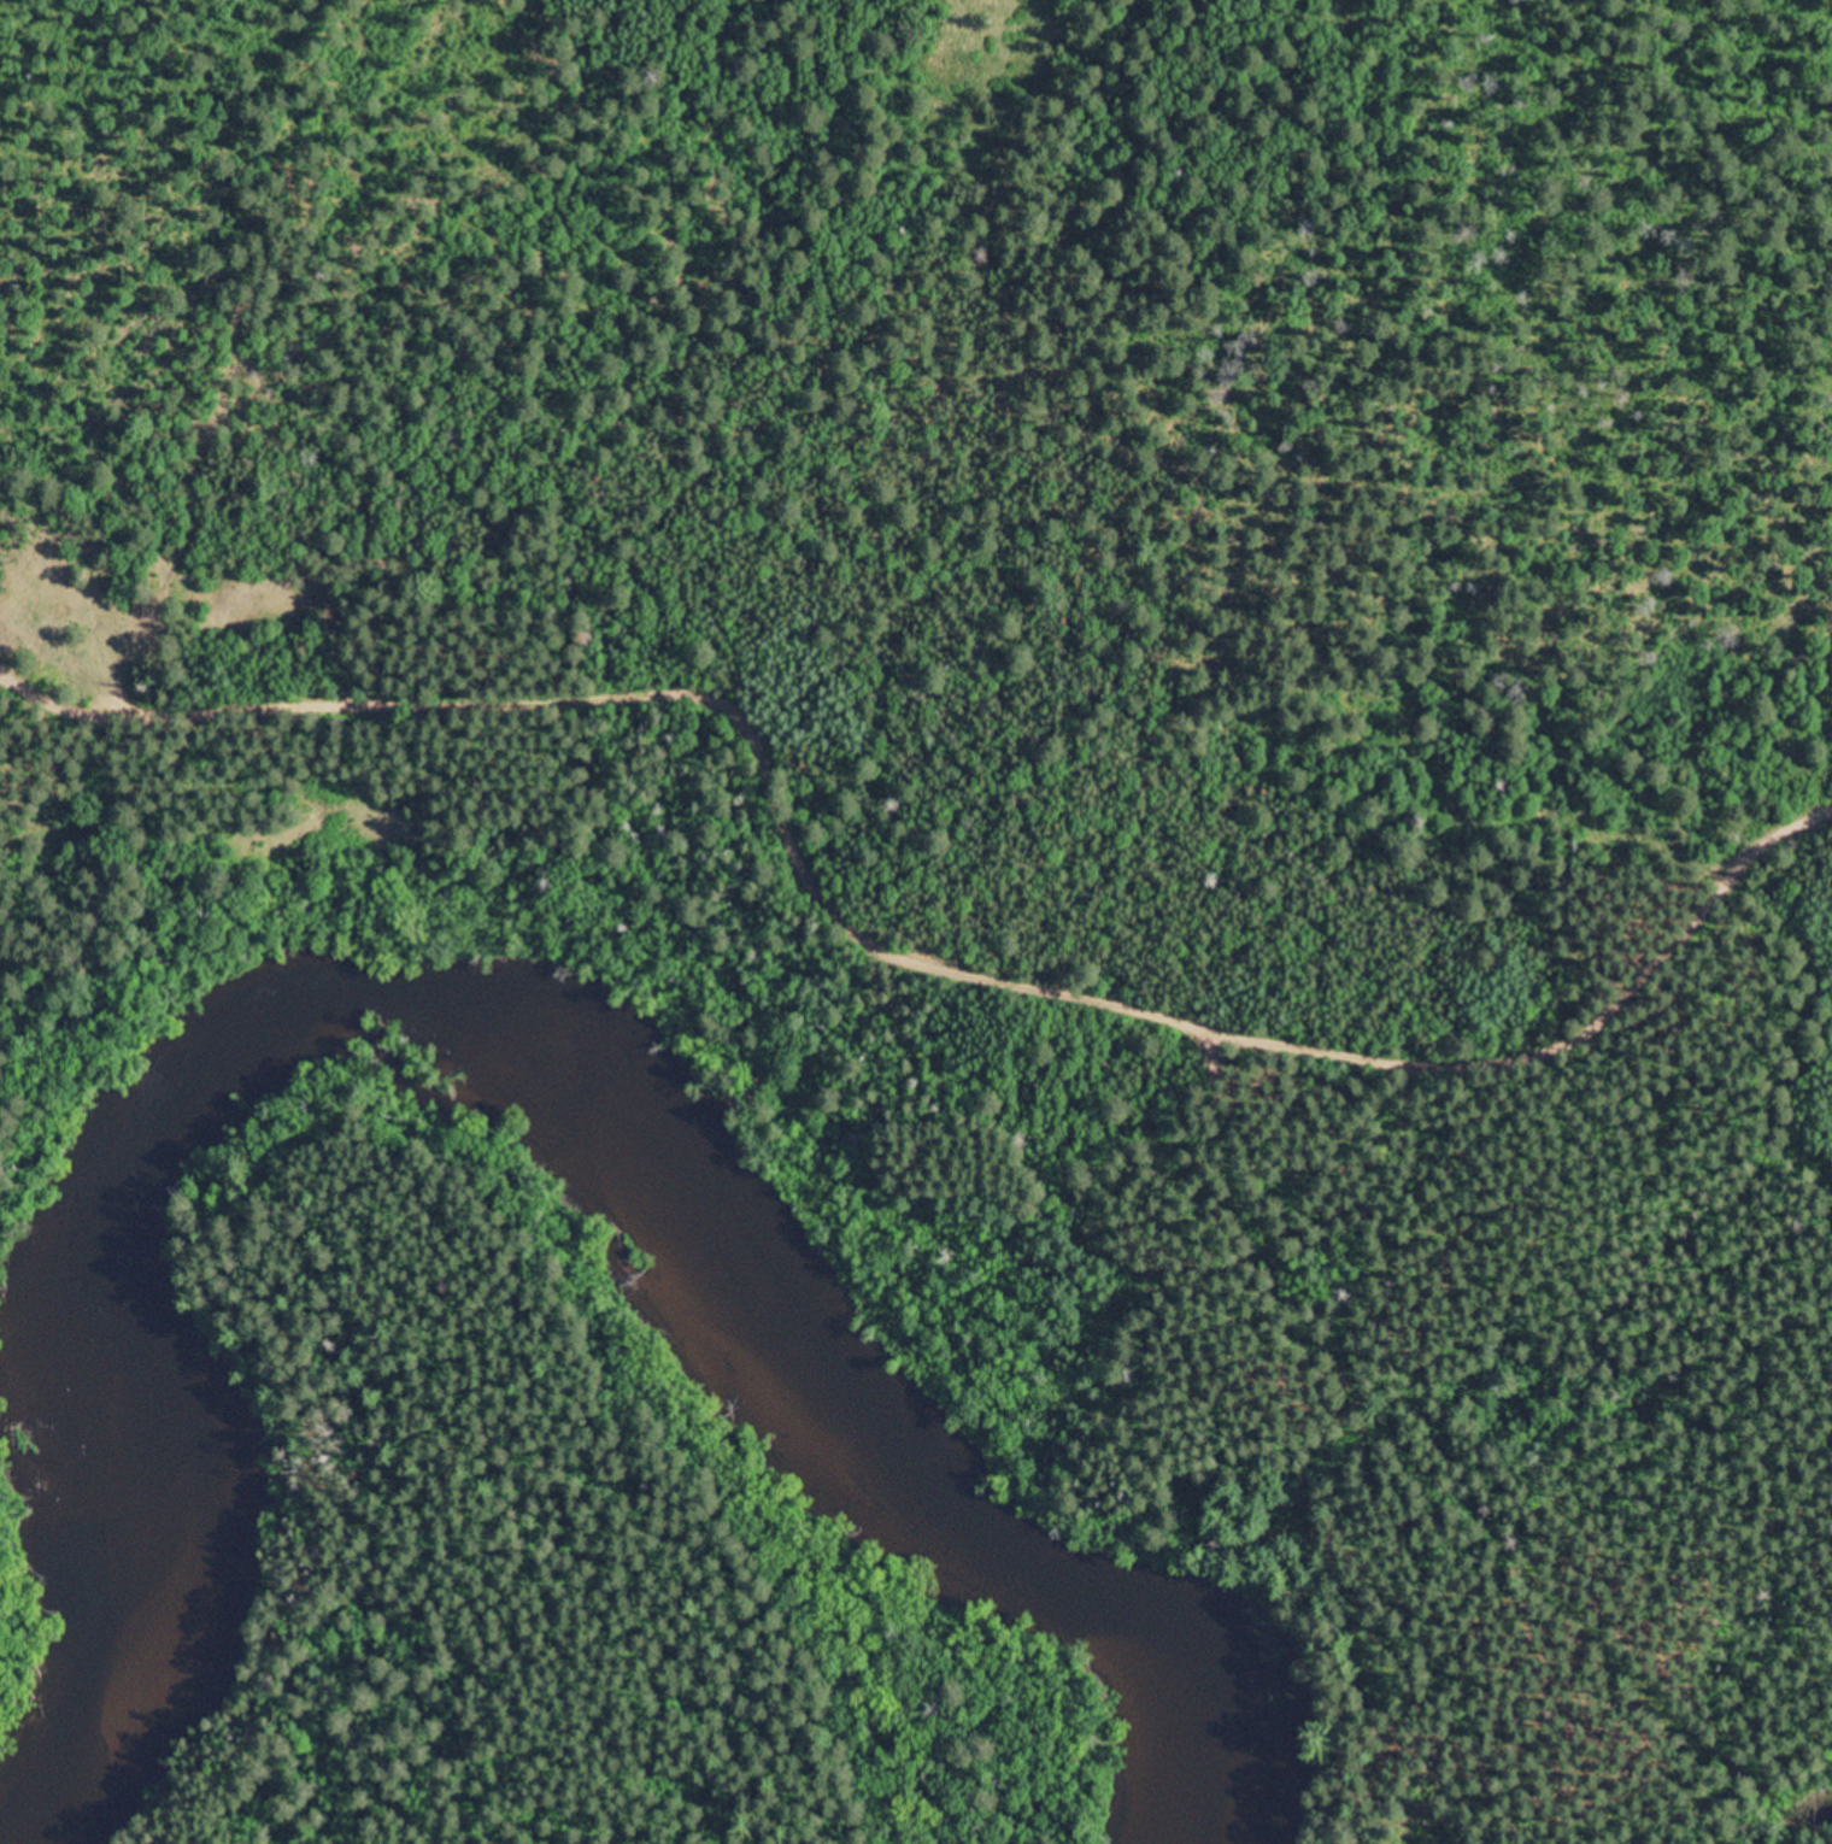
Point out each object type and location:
road: (892, 930)
river: (510, 1008)

